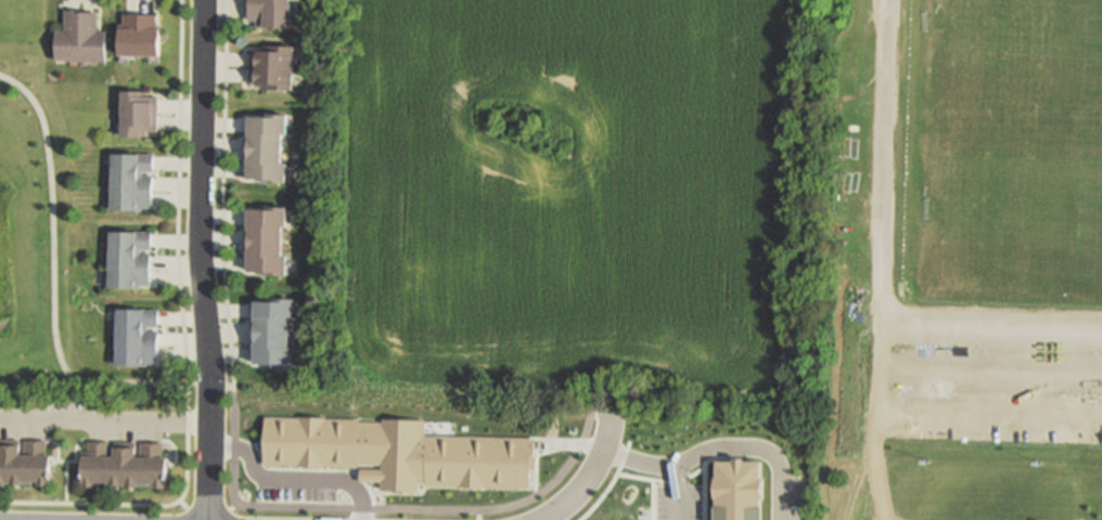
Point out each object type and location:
building: (270, 12)
building: (79, 36)
building: (140, 36)
park: (1016, 56)
building: (271, 65)
building: (139, 112)
building: (267, 148)
building: (131, 181)
crop: (571, 201)
park: (1014, 210)
park: (49, 231)
building: (267, 240)
building: (130, 258)
road: (201, 260)
park: (956, 260)
road: (885, 270)
road: (53, 297)
building: (273, 334)
building: (136, 335)
road: (183, 340)
road: (883, 347)
parking lot: (986, 372)
road: (992, 372)
road: (229, 388)
road: (968, 418)
road: (105, 422)
road: (231, 438)
road: (720, 447)
building: (23, 461)
building: (125, 463)
road: (591, 477)
building: (738, 491)
road: (678, 492)
parking lot: (678, 504)
road: (182, 505)
road: (231, 508)
road: (207, 509)

